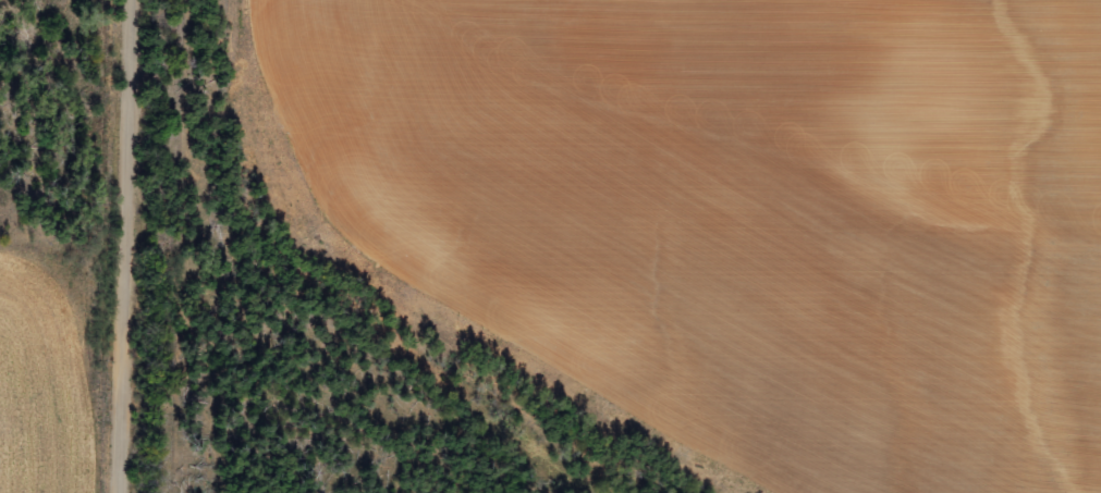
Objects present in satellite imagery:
road: (125, 246)

